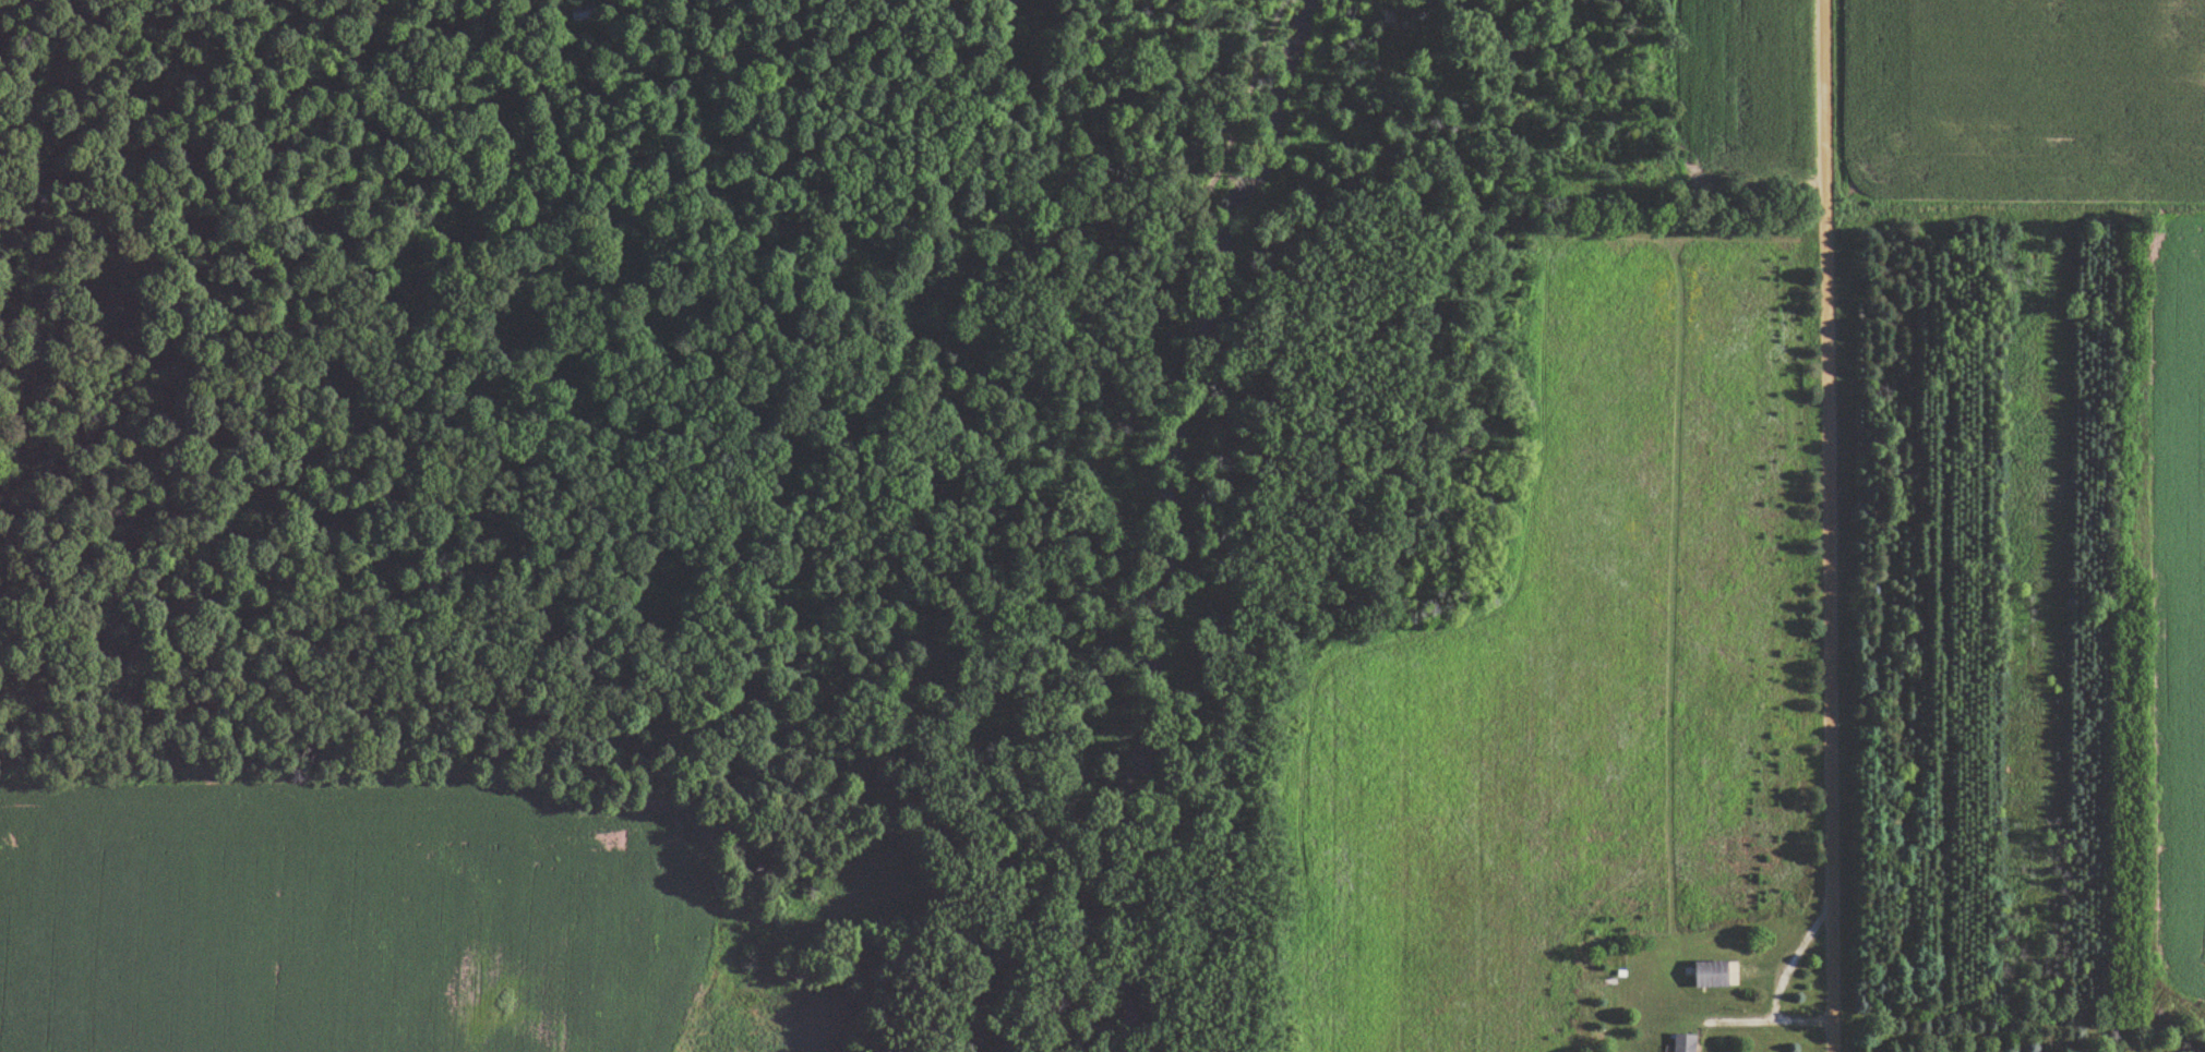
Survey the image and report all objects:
road: (1833, 525)
building: (1705, 976)
road: (1784, 977)
building: (1680, 1043)

